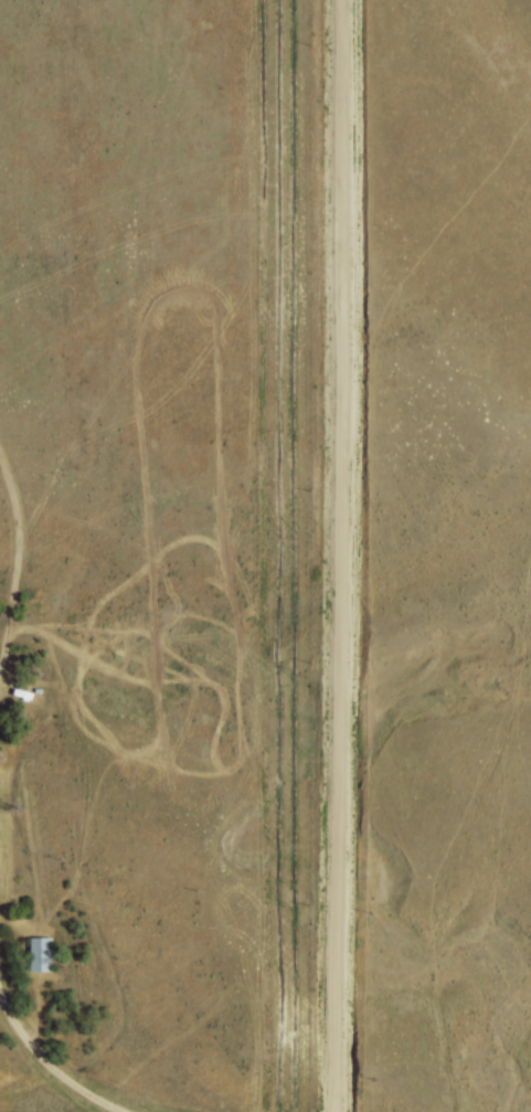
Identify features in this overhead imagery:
road: (330, 555)
building: (42, 954)
building: (28, 963)
road: (38, 1076)

